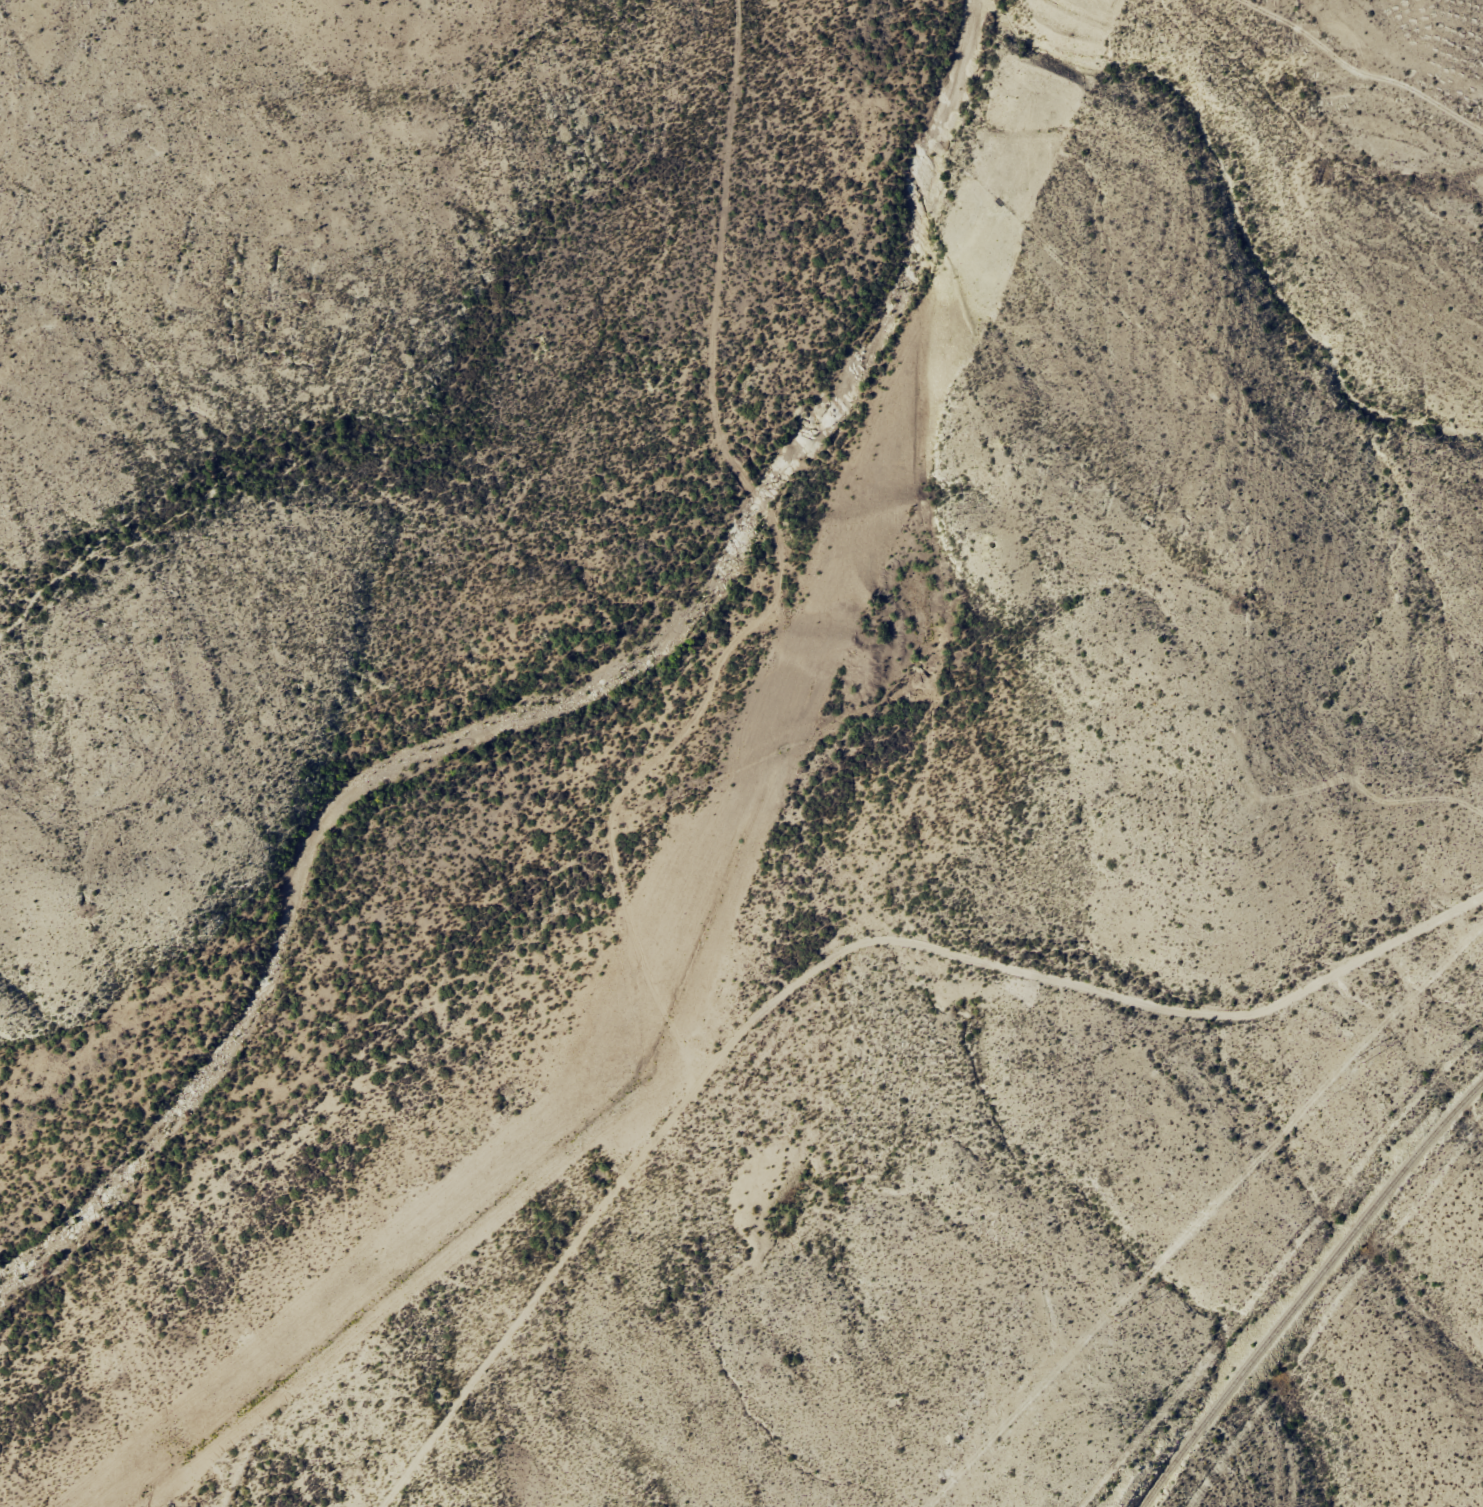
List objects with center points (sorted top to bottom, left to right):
road: (830, 972)
power tower: (1359, 1058)
railway: (1305, 1288)
power tower: (1115, 1319)

